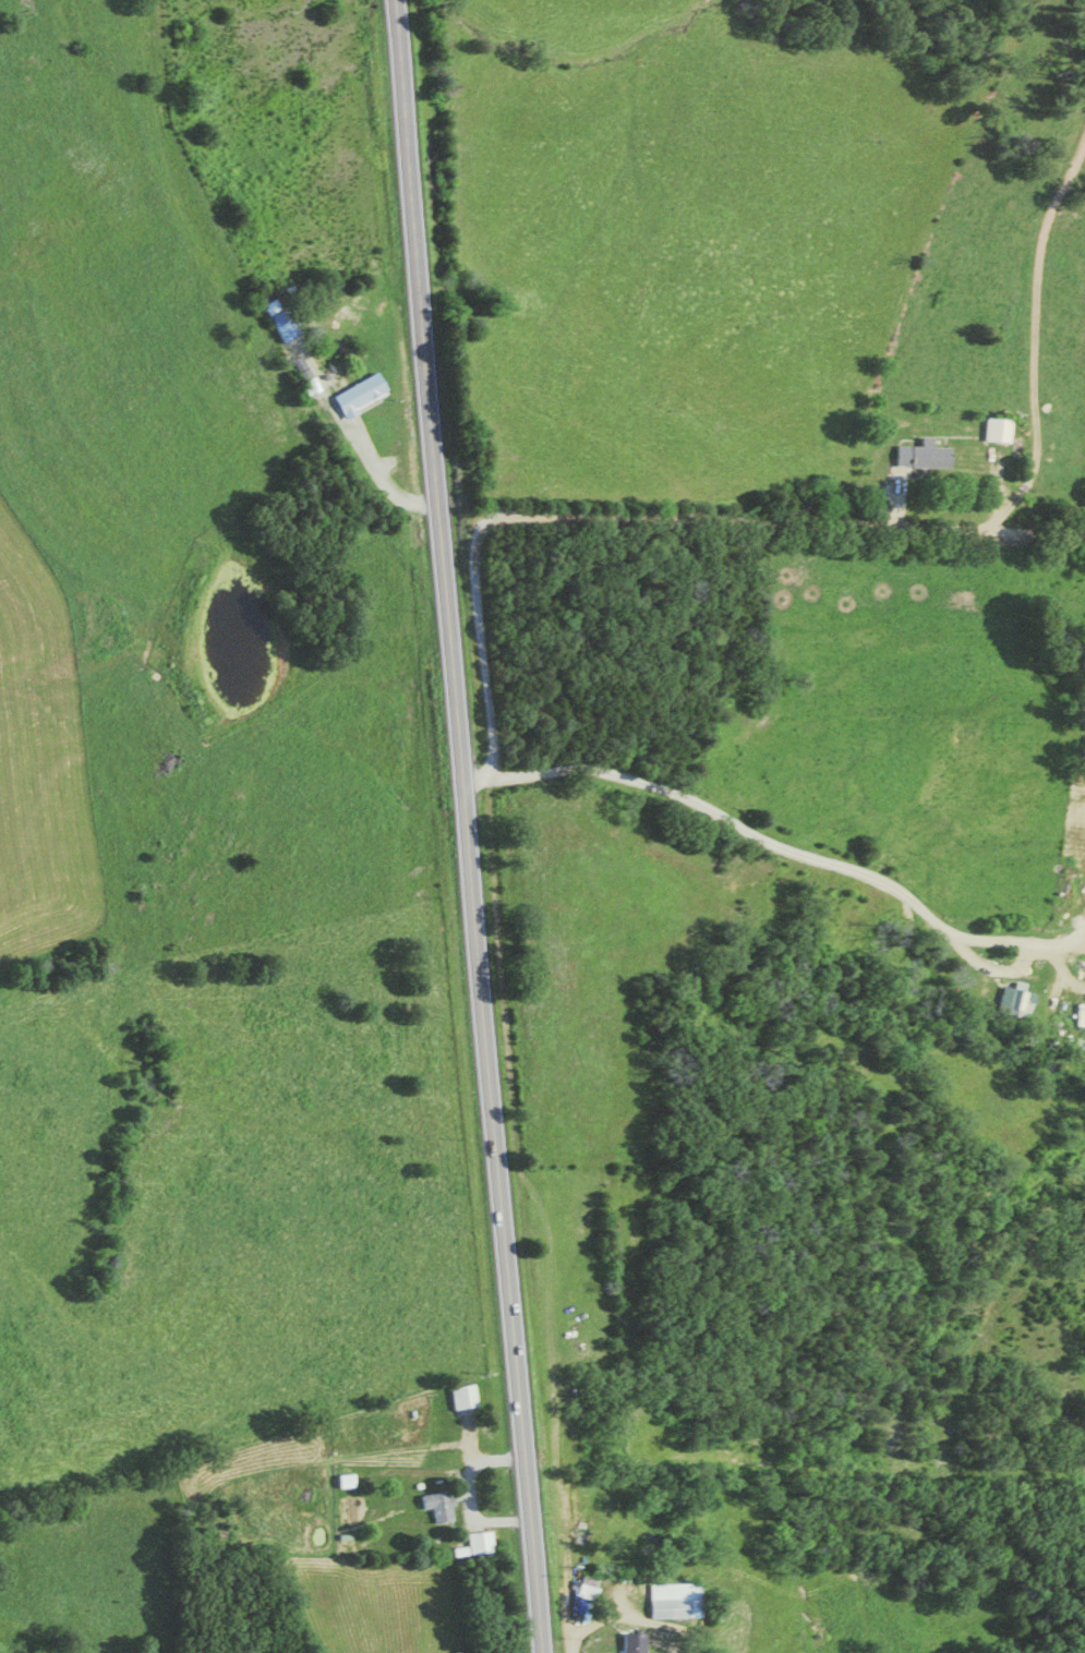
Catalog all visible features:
building: (304, 378)
building: (359, 398)
building: (994, 433)
building: (921, 458)
road: (471, 825)
building: (1012, 1006)
building: (459, 1400)
building: (422, 1428)
building: (435, 1508)
building: (475, 1545)
building: (671, 1603)
building: (628, 1644)

